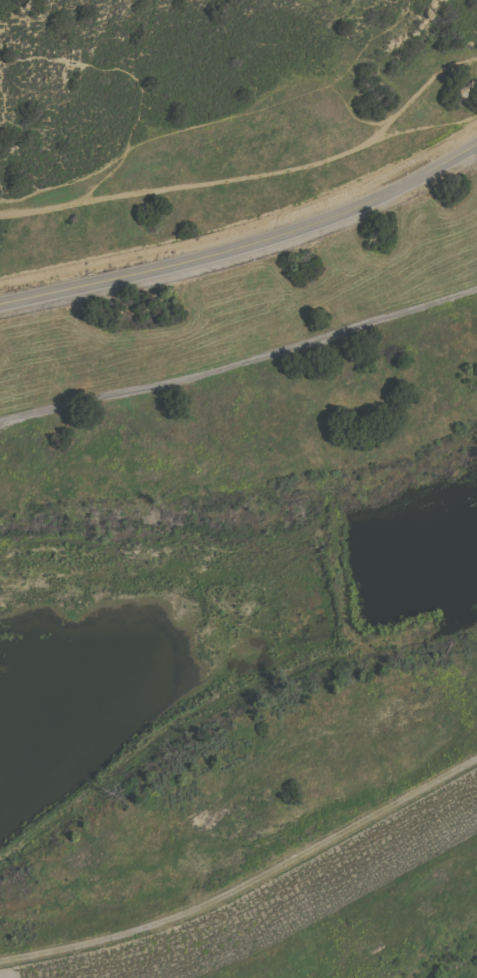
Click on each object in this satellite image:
park: (210, 112)
road: (245, 243)
road: (240, 362)
road: (2, 423)
road: (248, 882)

